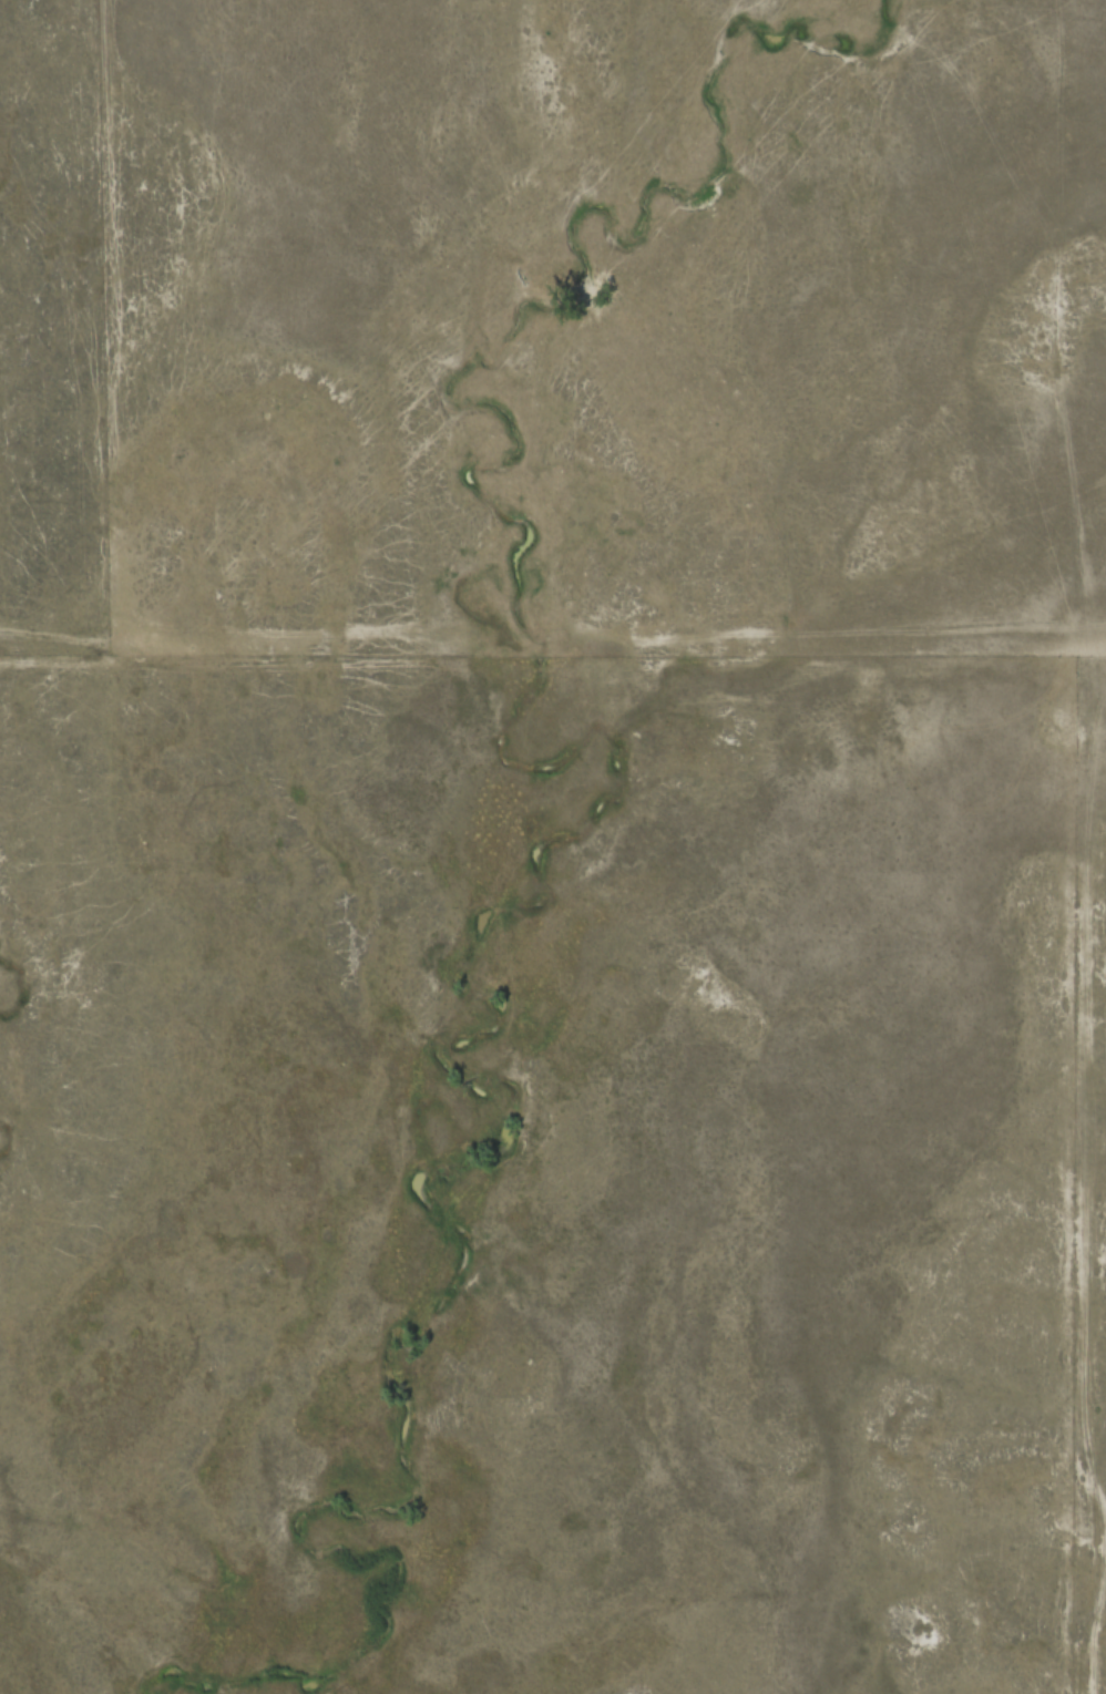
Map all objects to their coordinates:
road: (1072, 821)

